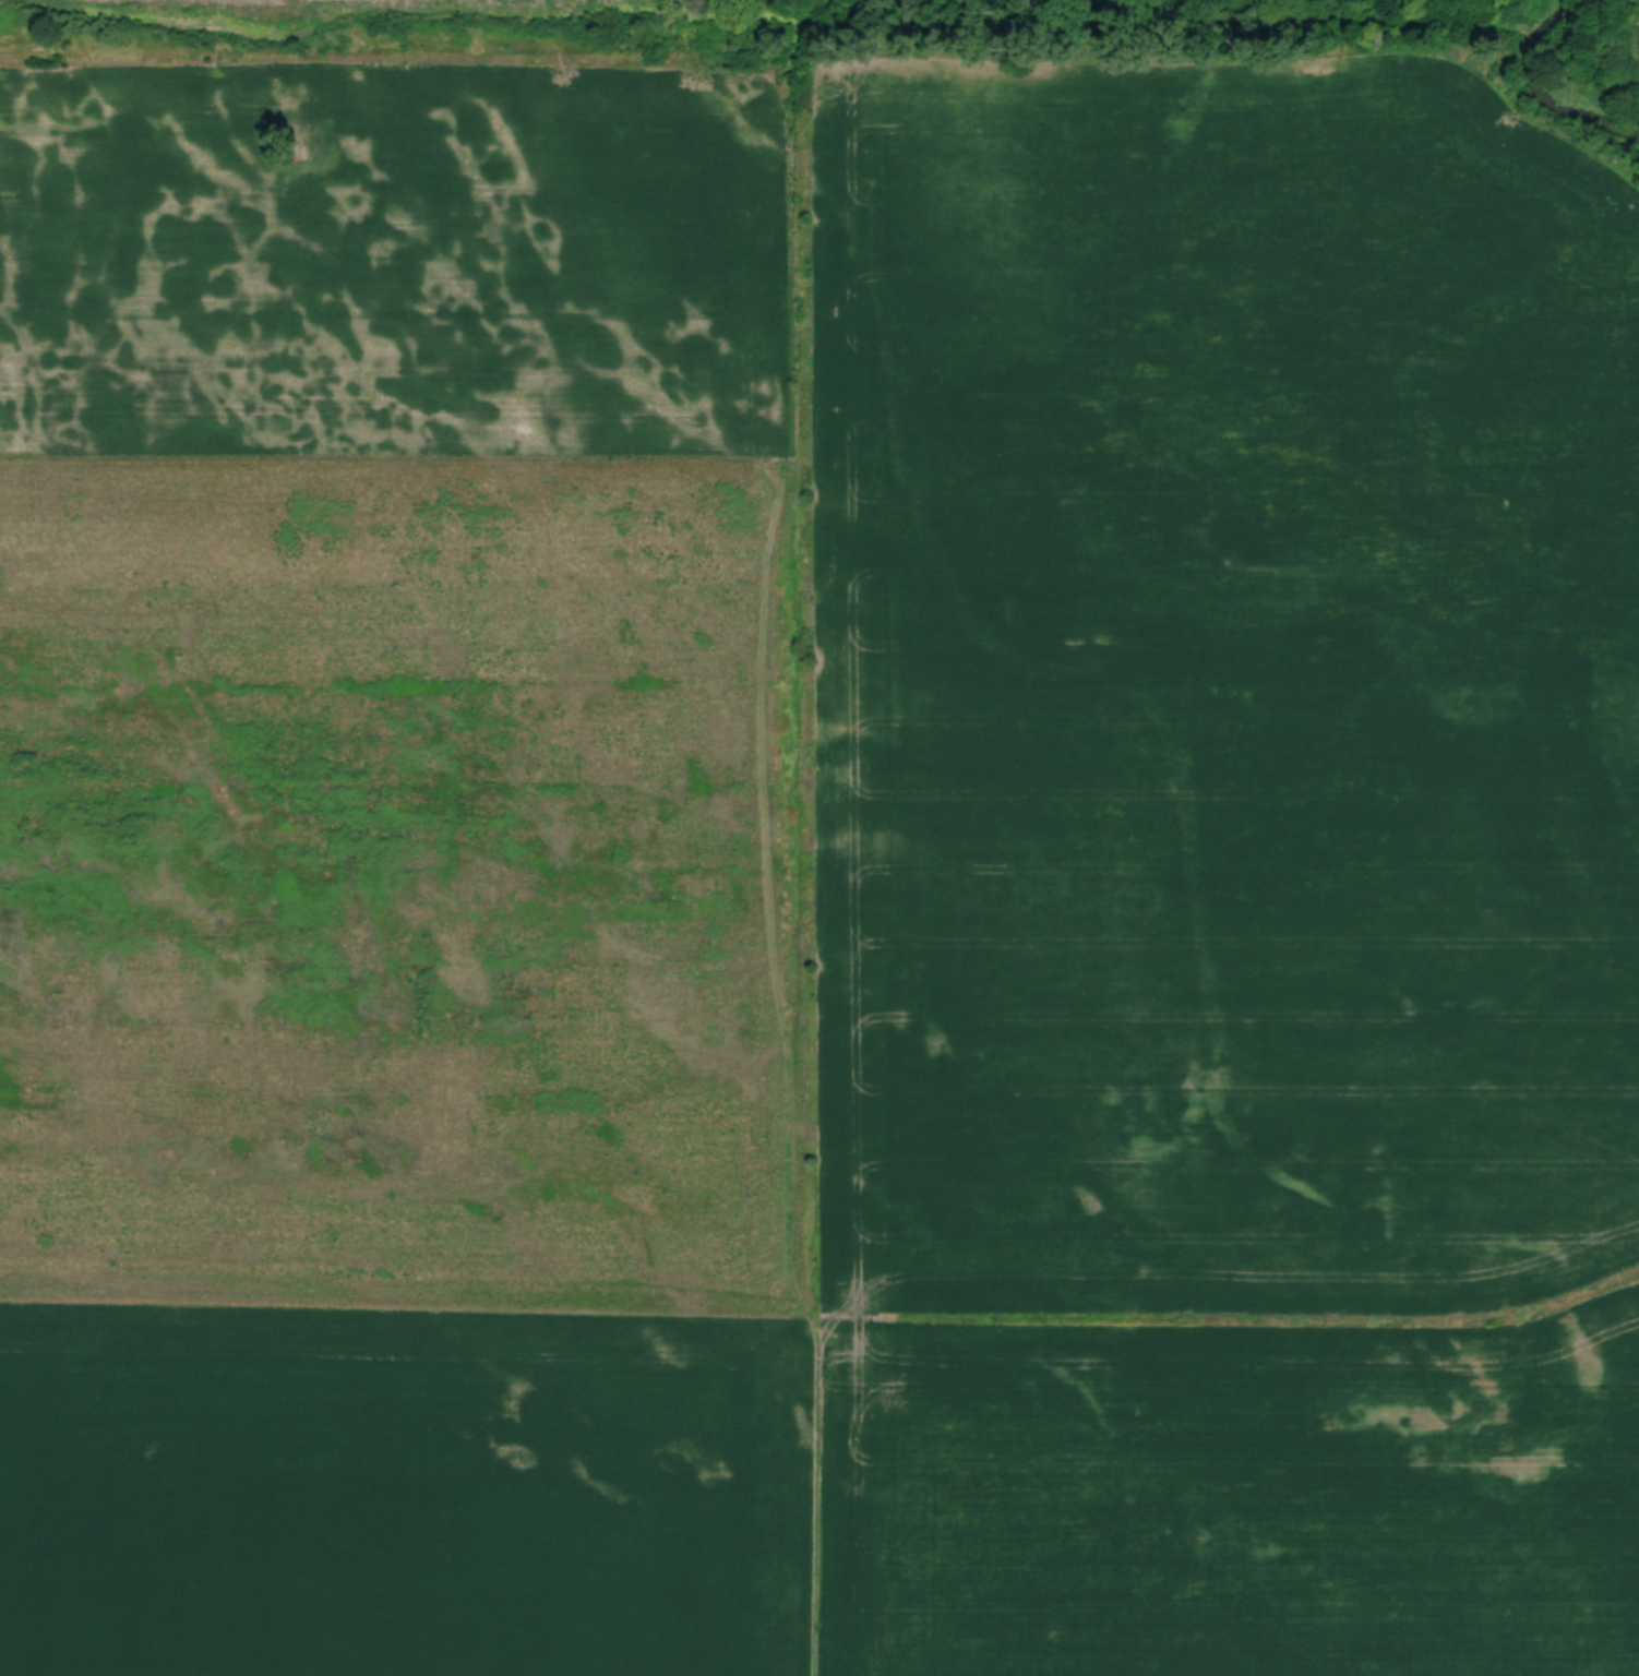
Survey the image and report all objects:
river: (1541, 96)

